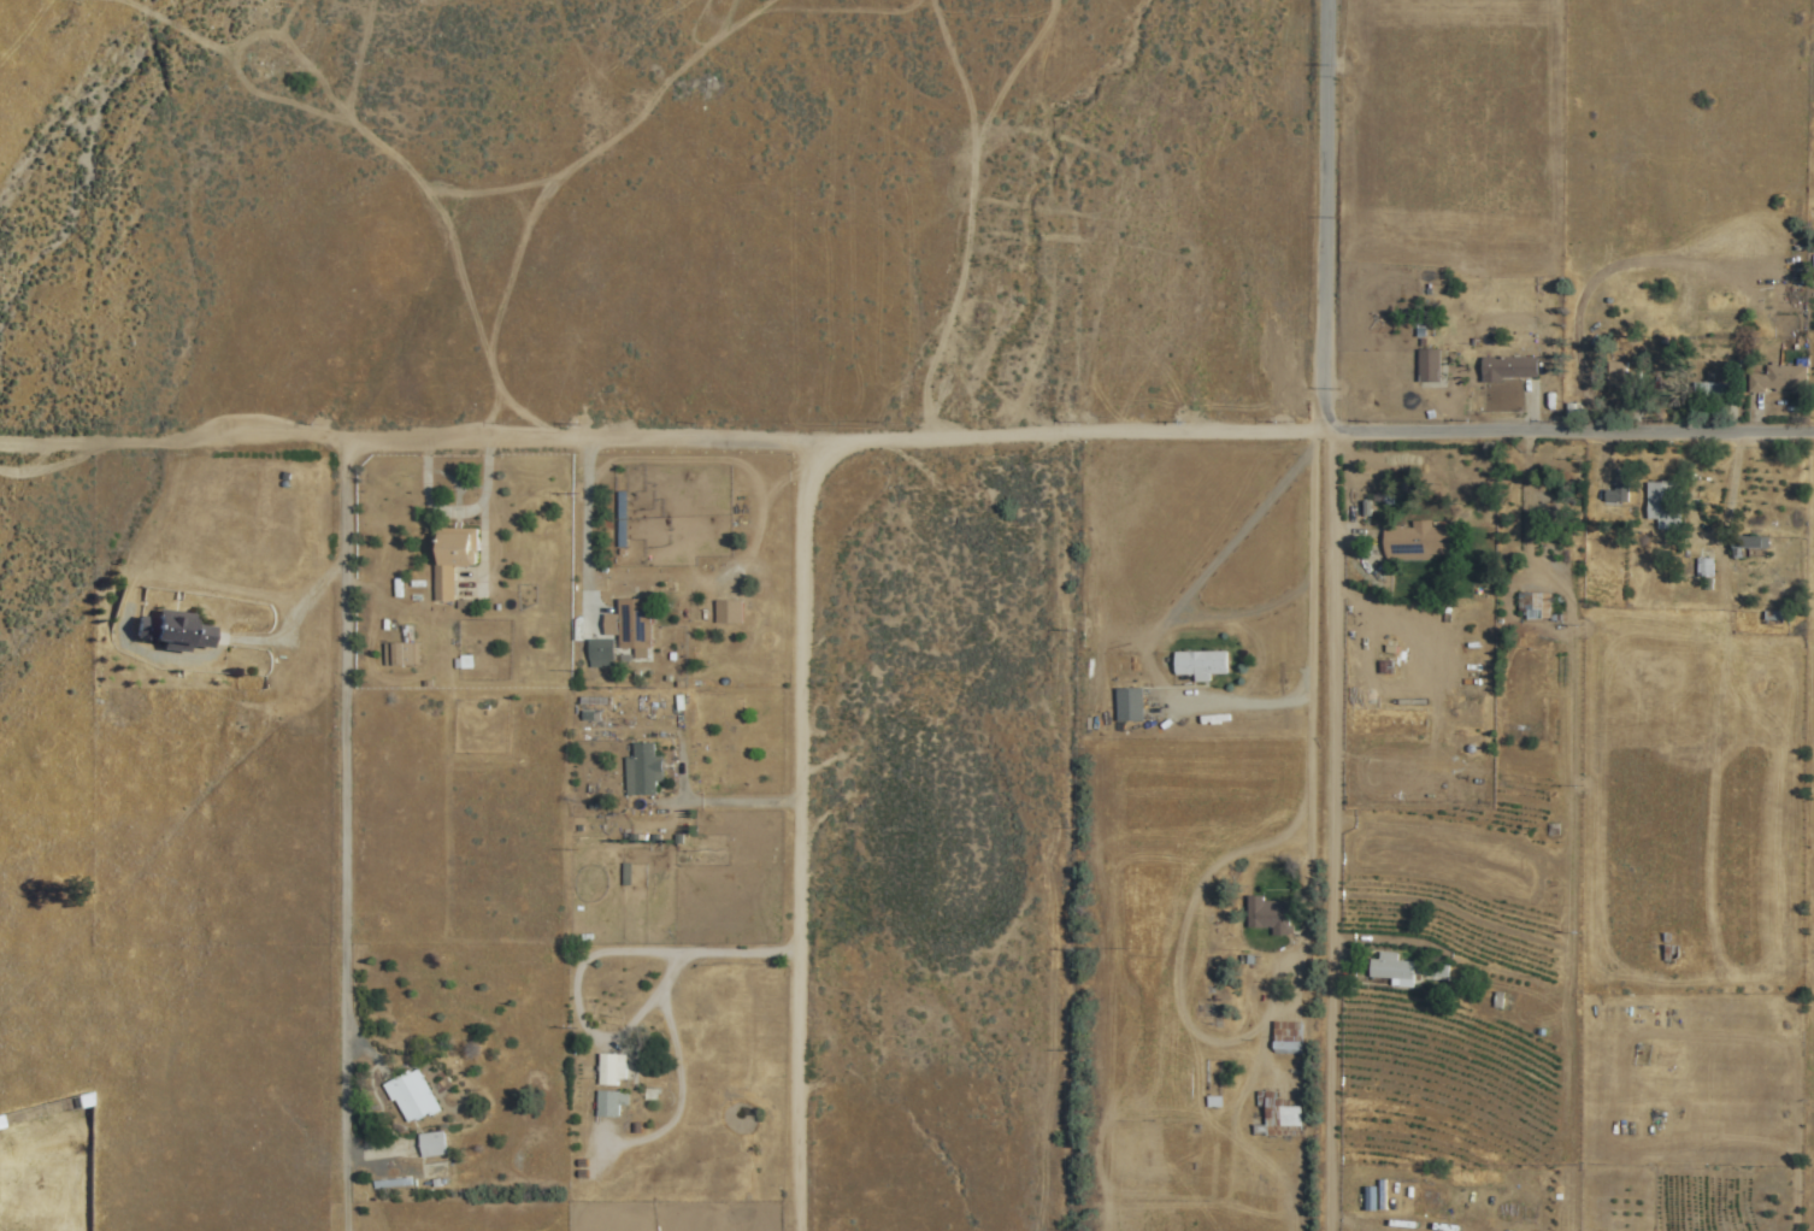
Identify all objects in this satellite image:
crop: (1461, 210)
building: (1813, 258)
building: (1427, 365)
building: (1508, 369)
building: (1618, 373)
building: (1785, 378)
building: (1707, 390)
road: (1309, 430)
road: (402, 442)
building: (1616, 489)
building: (1663, 503)
building: (1415, 540)
building: (1747, 546)
building: (452, 558)
building: (1704, 567)
building: (1533, 605)
building: (728, 606)
road: (1330, 614)
building: (173, 630)
building: (635, 632)
building: (600, 652)
building: (400, 654)
building: (1200, 664)
road: (1309, 688)
building: (1129, 705)
building: (642, 770)
road: (800, 836)
road: (341, 837)
building: (1268, 914)
building: (1398, 967)
building: (1286, 1037)
building: (612, 1070)
building: (411, 1096)
building: (611, 1105)
building: (1278, 1112)
building: (431, 1144)
building: (1371, 1198)

